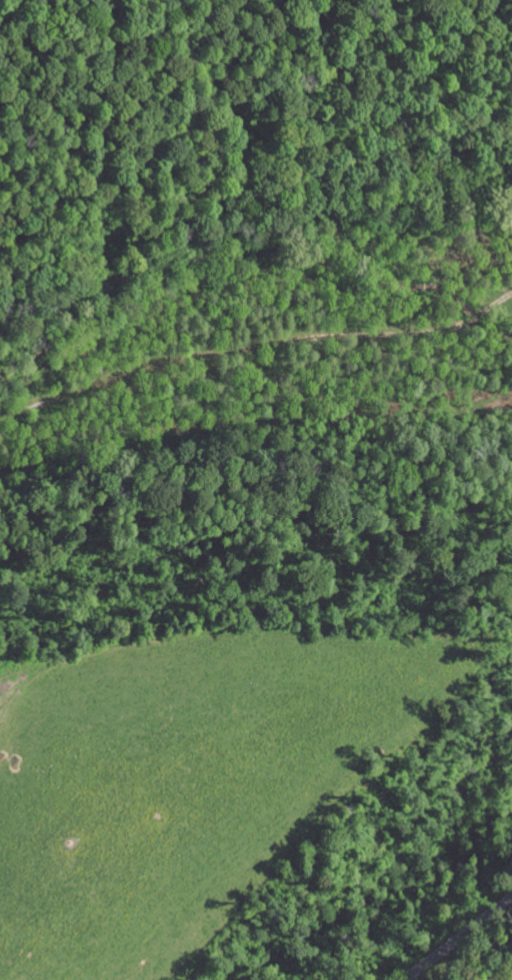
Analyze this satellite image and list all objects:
road: (460, 940)

